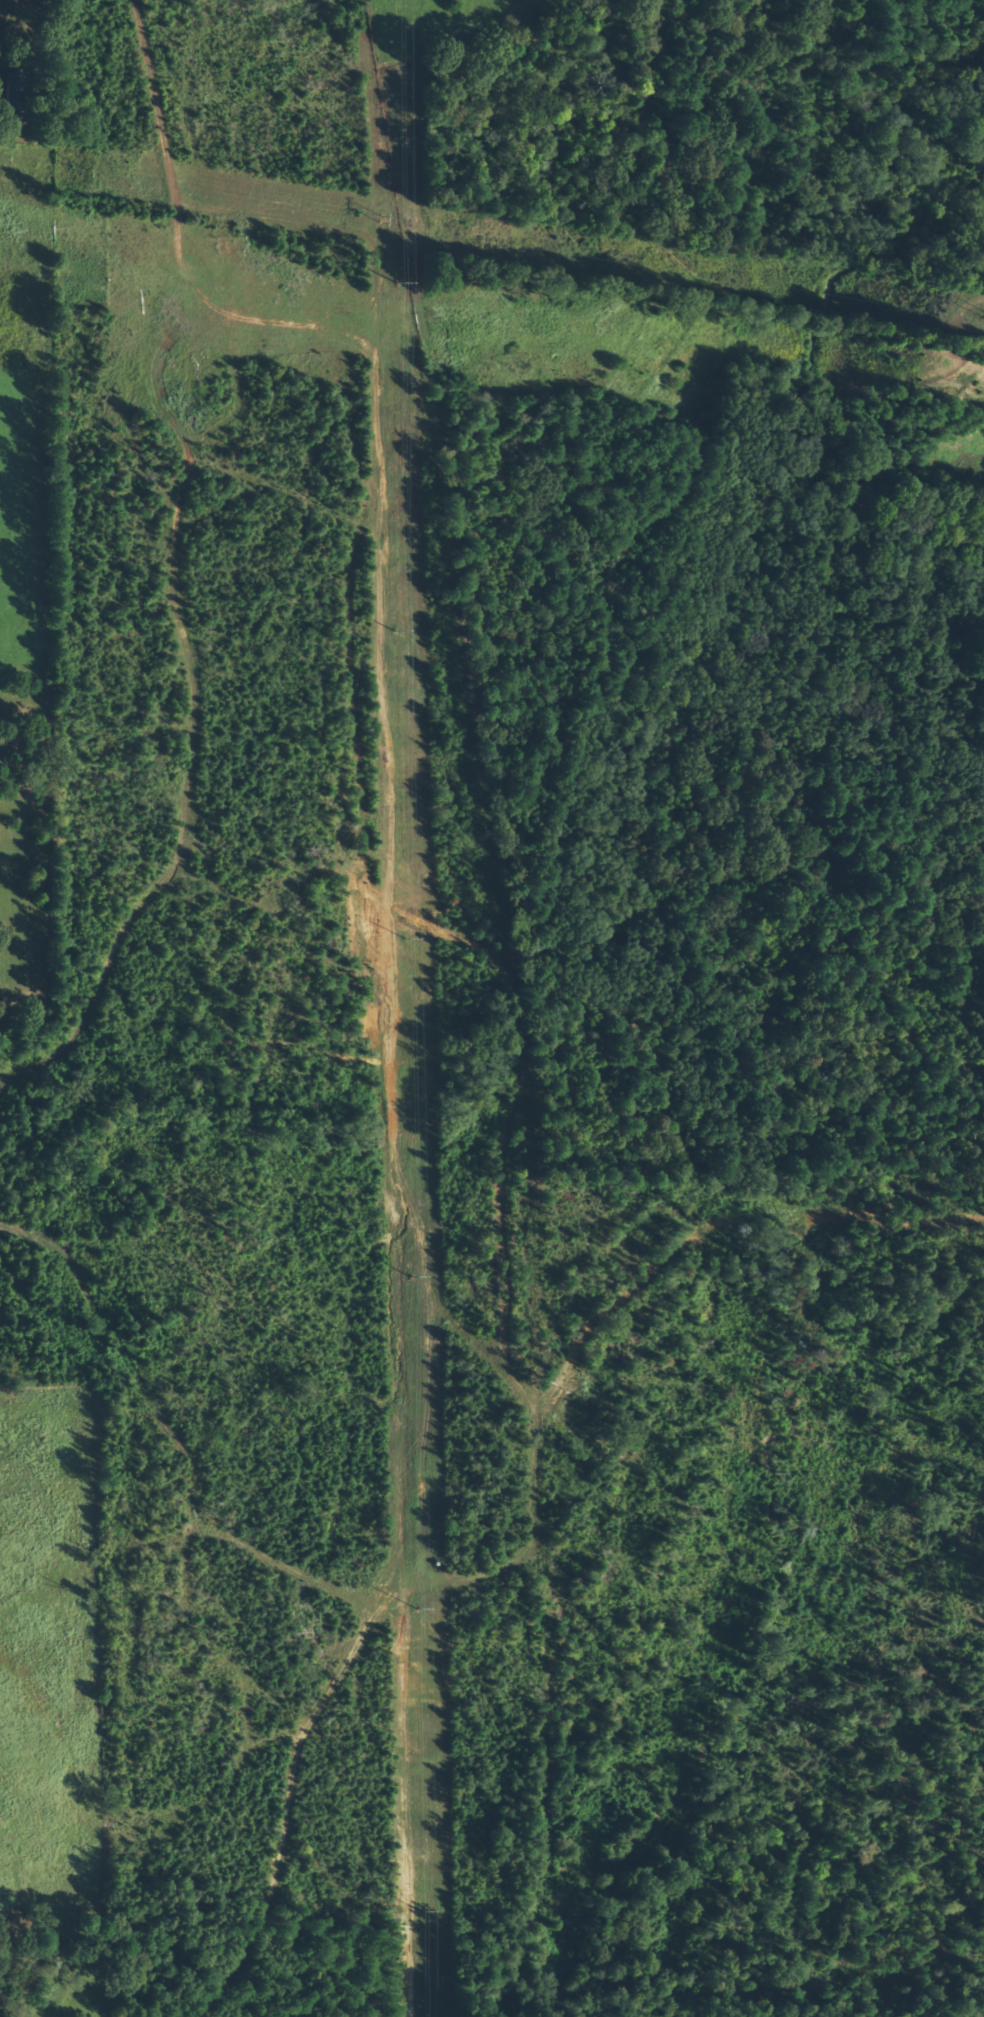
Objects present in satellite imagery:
building: (14, 89)

